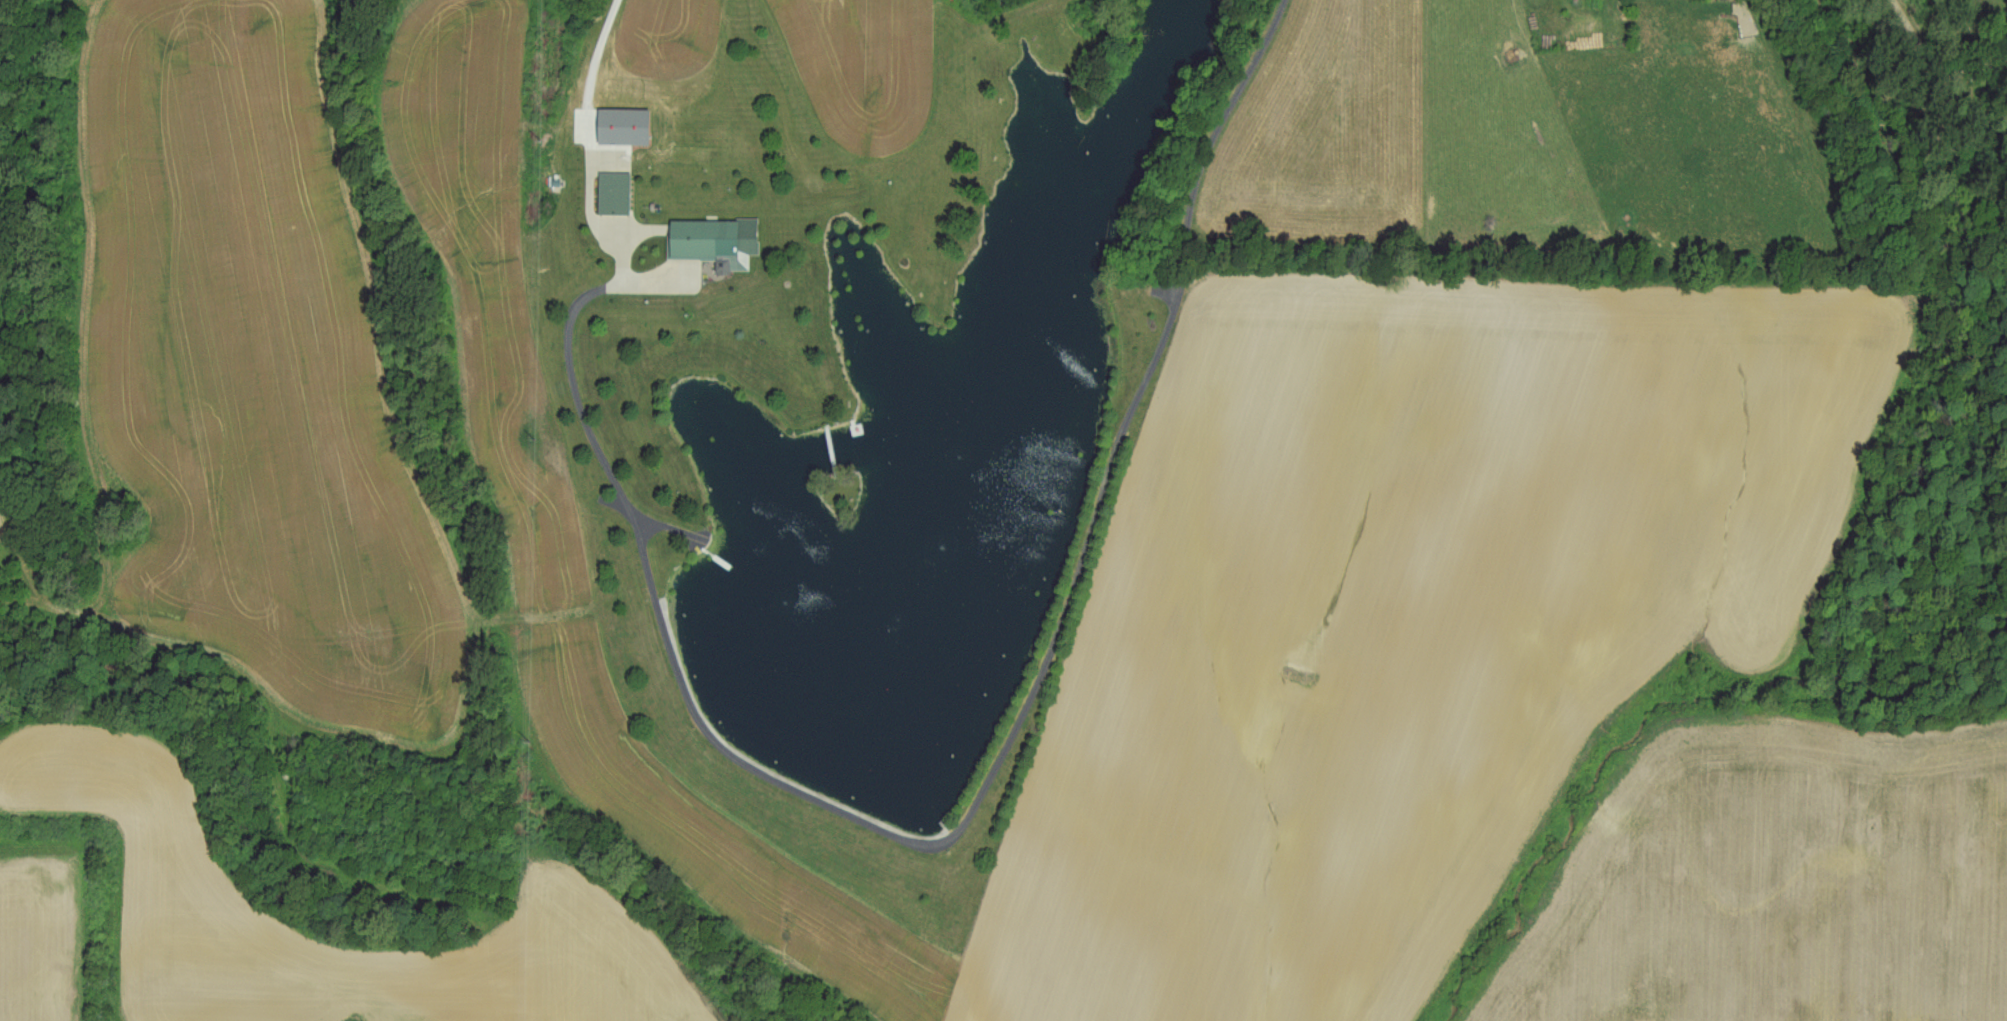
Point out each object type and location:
road: (1225, 117)
building: (616, 195)
building: (706, 242)
road: (750, 770)

